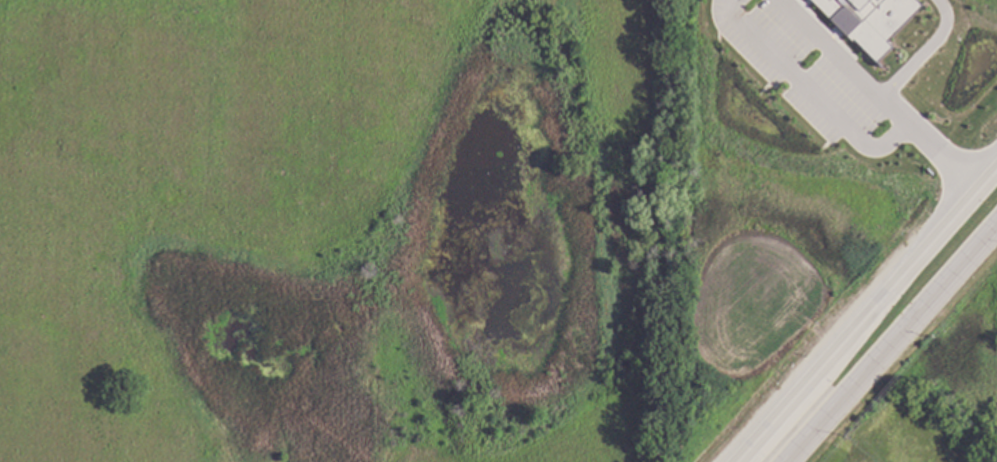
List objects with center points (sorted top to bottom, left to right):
building: (867, 21)
road: (921, 53)
road: (809, 94)
road: (875, 95)
crop: (329, 230)
road: (864, 314)
road: (890, 340)

